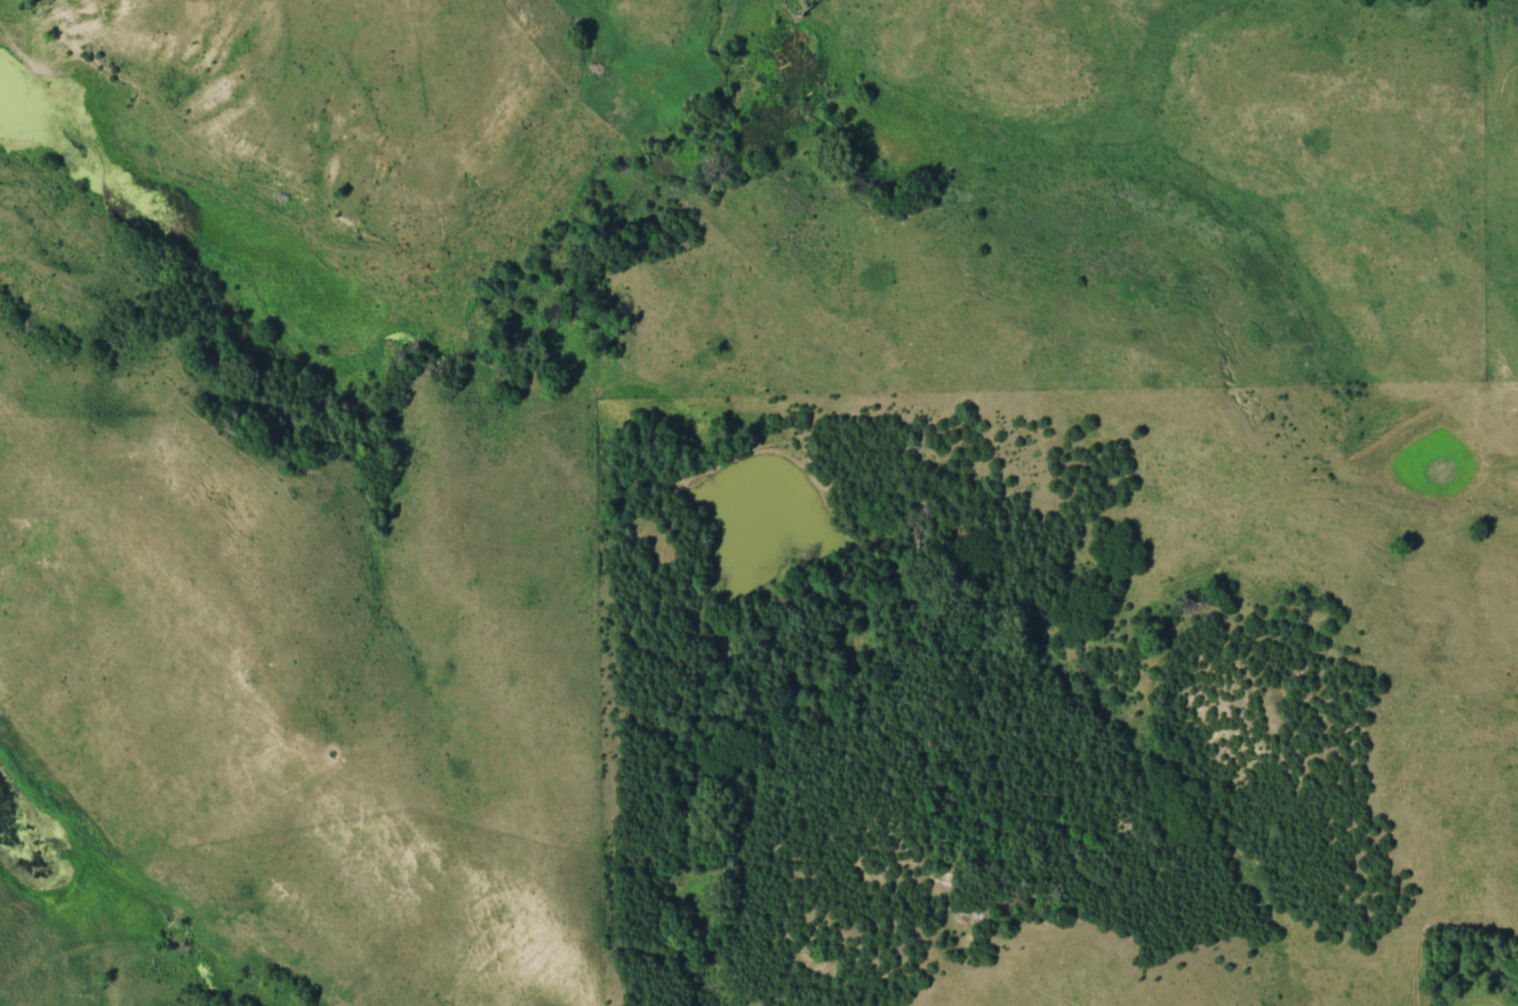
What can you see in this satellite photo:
crop: (1474, 1000)

